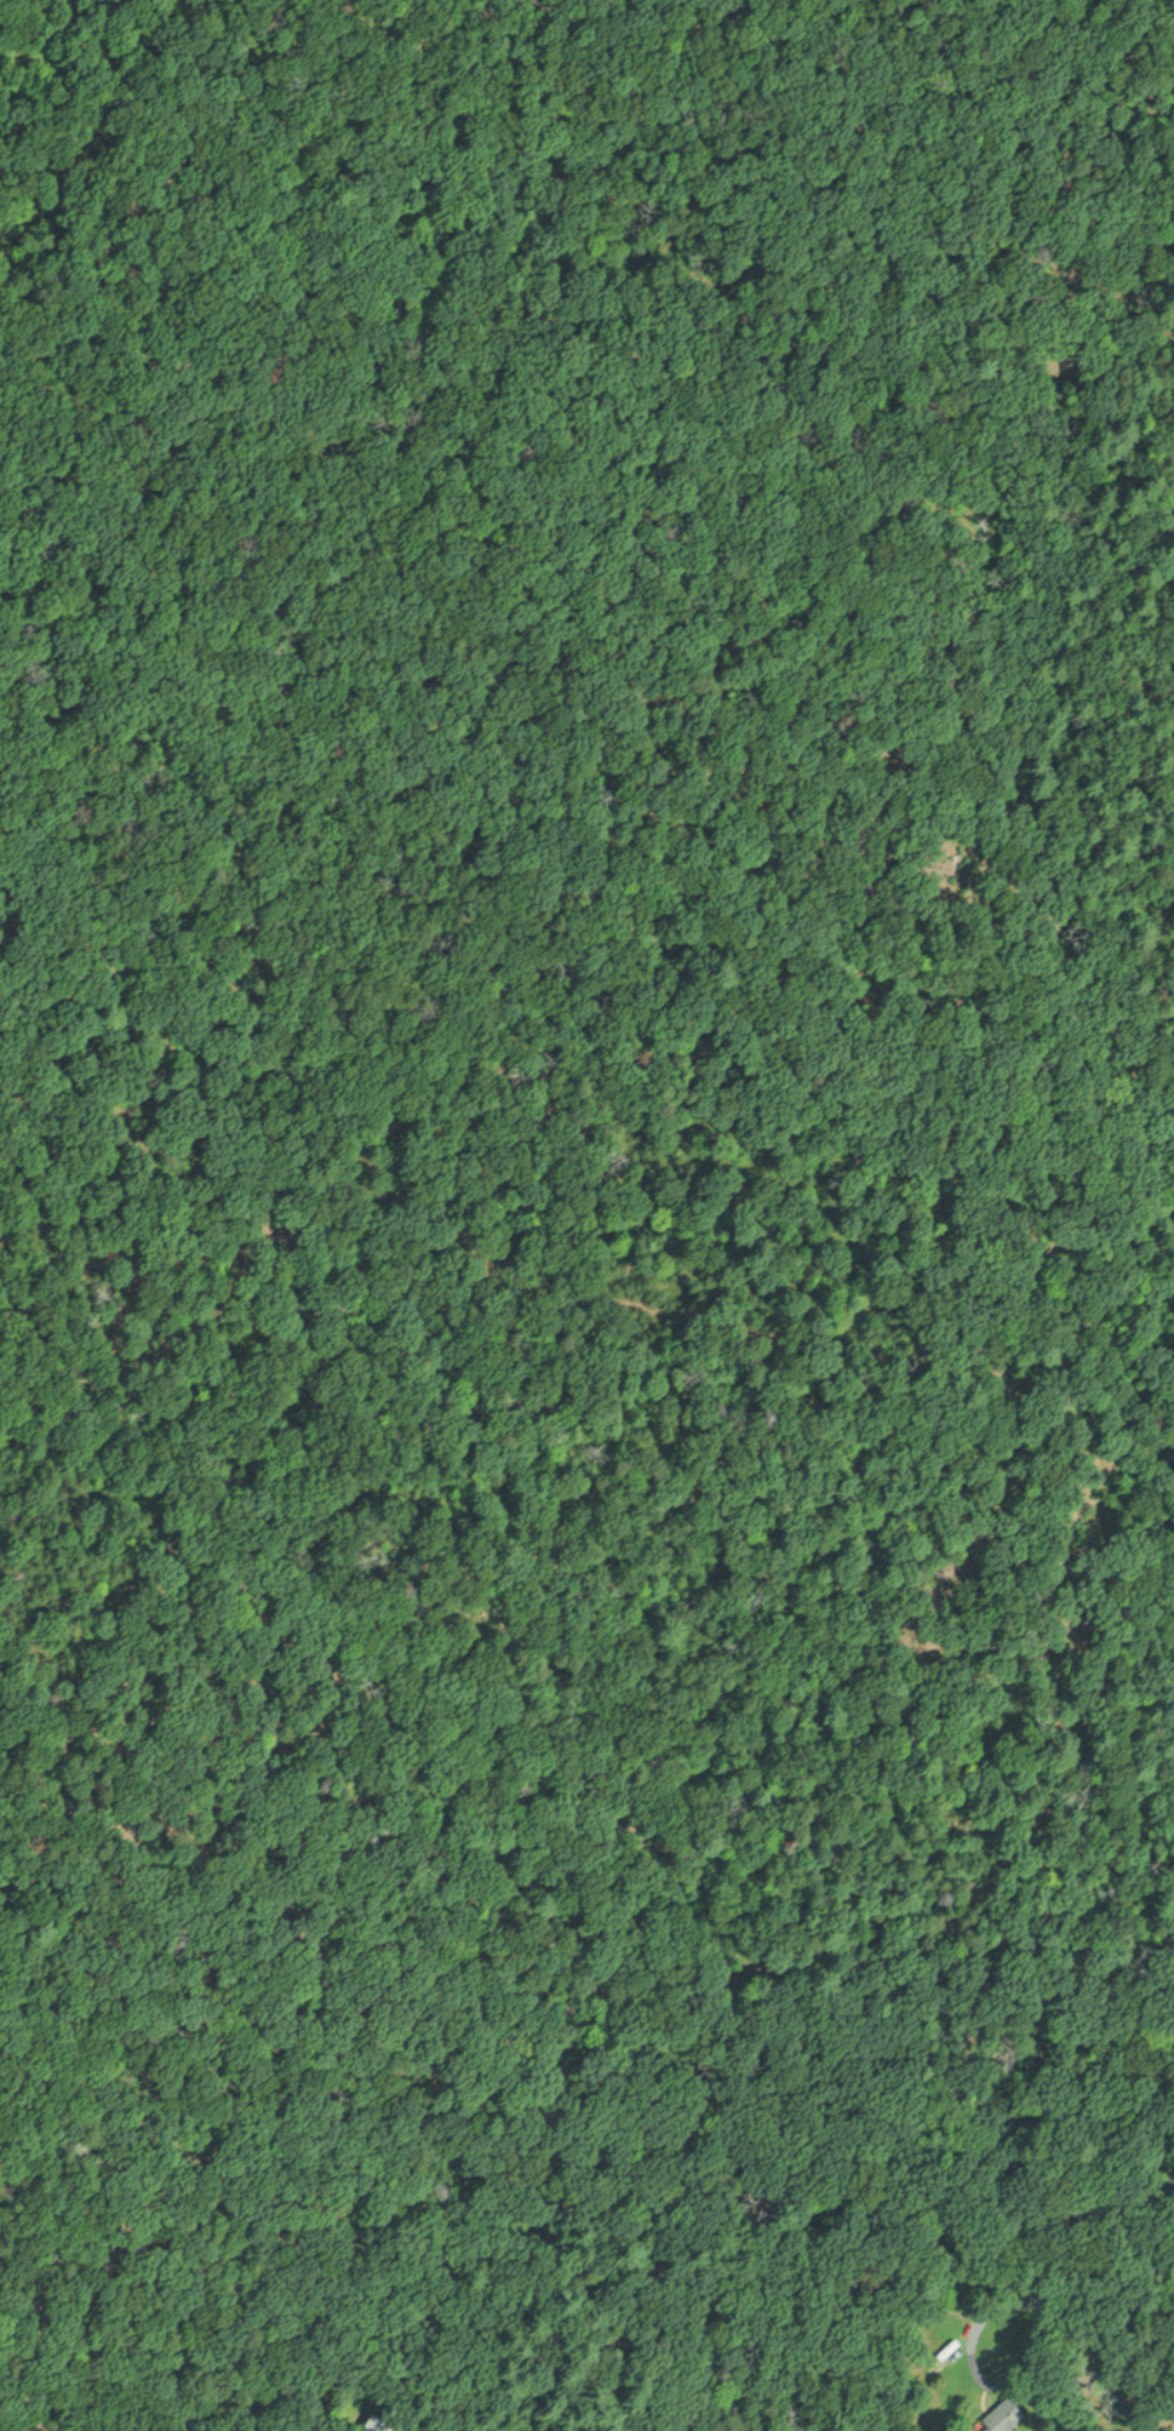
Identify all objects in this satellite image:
road: (1004, 2270)
building: (1003, 2418)
building: (378, 2425)

